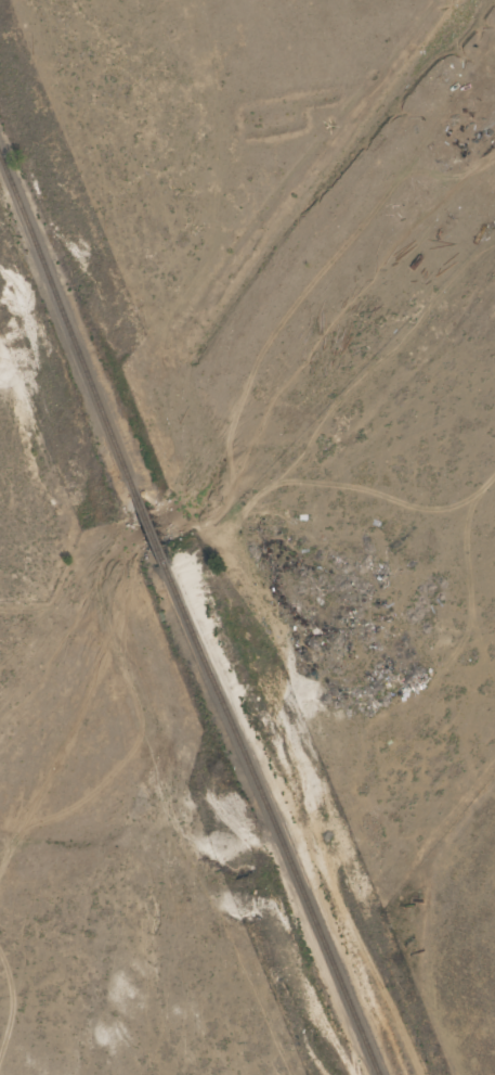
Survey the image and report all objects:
railway: (67, 327)
railway: (151, 534)
railway: (272, 821)

